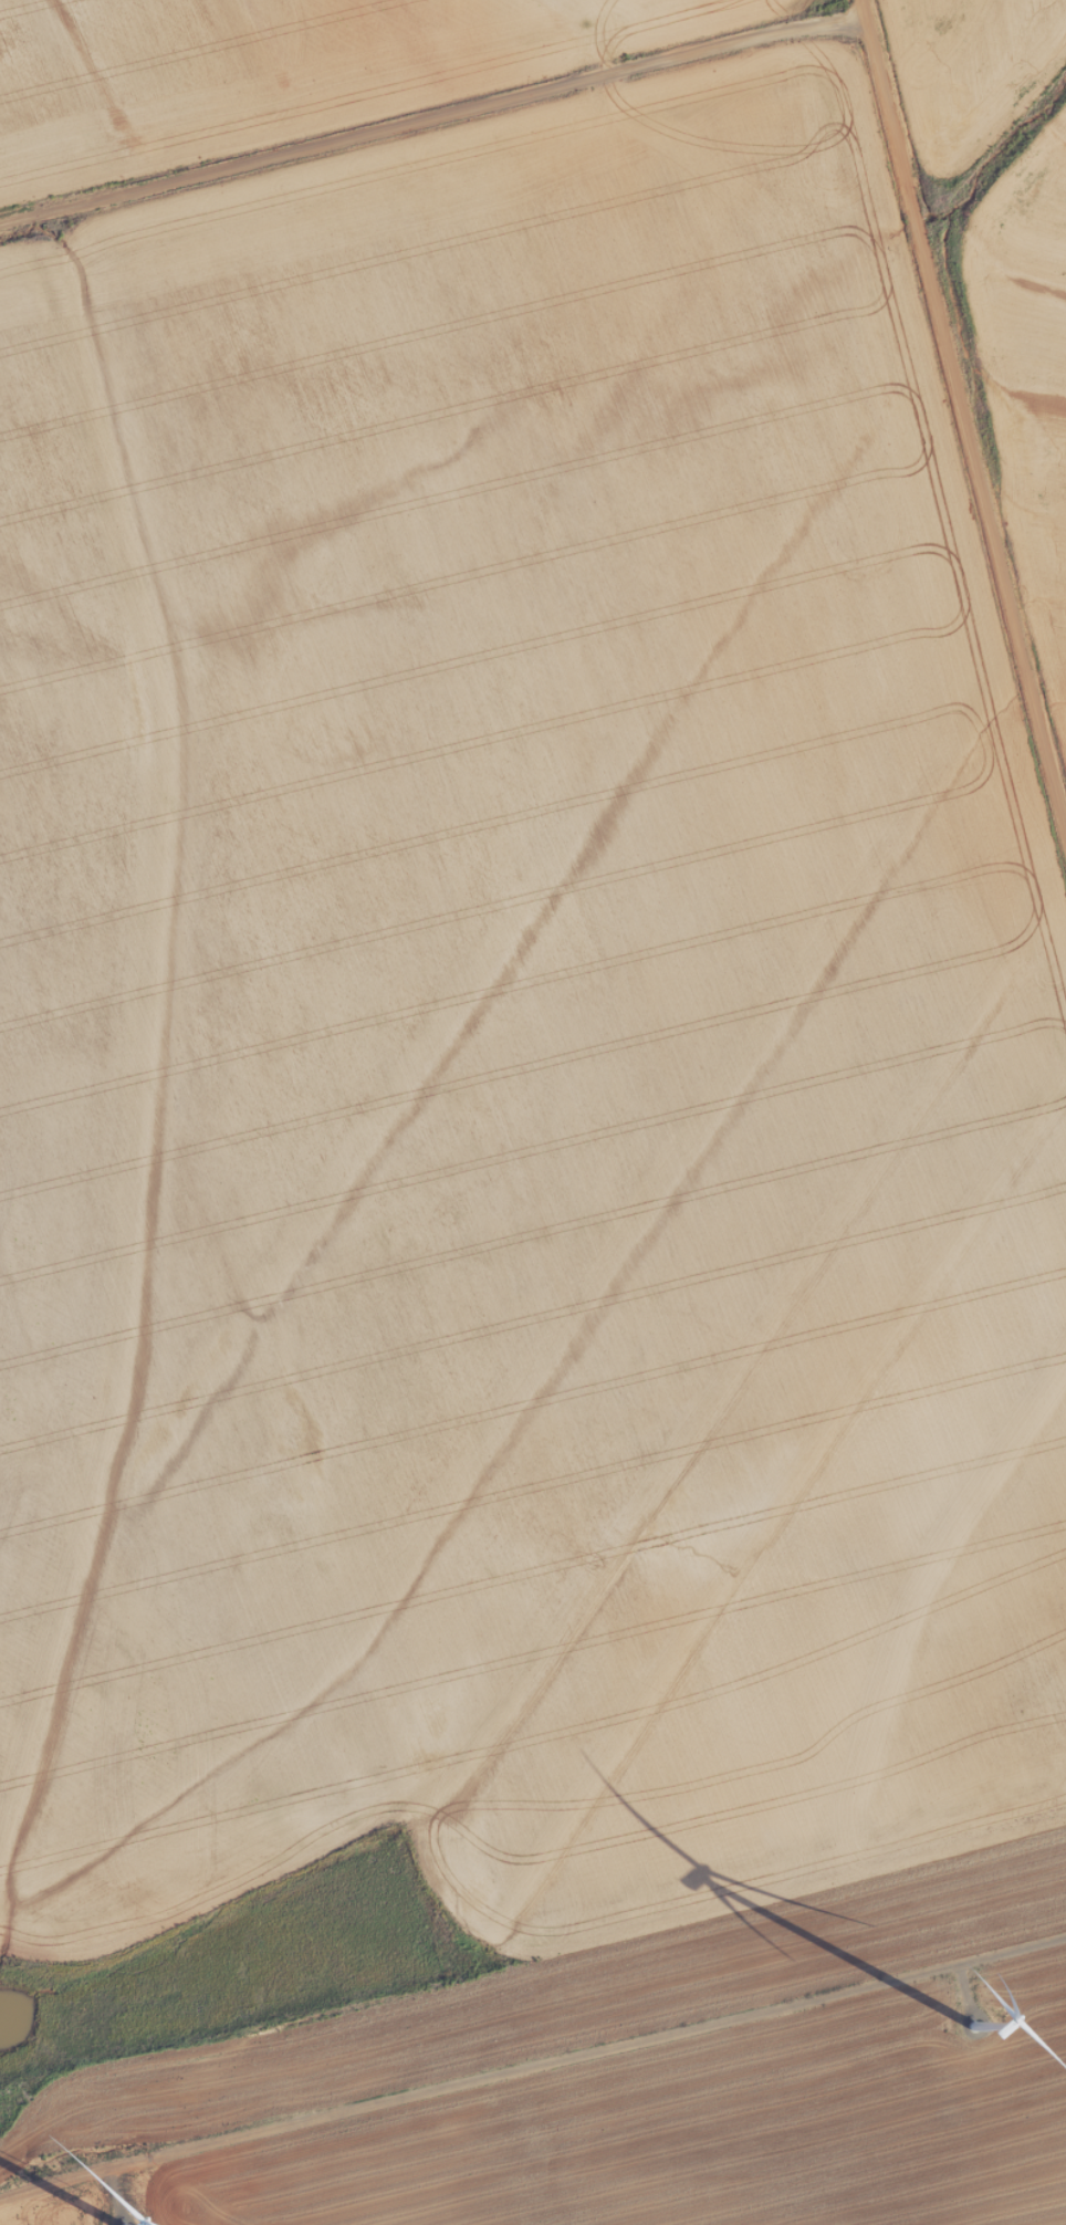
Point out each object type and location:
road: (431, 115)
road: (963, 415)
wind turbine: (974, 2028)

